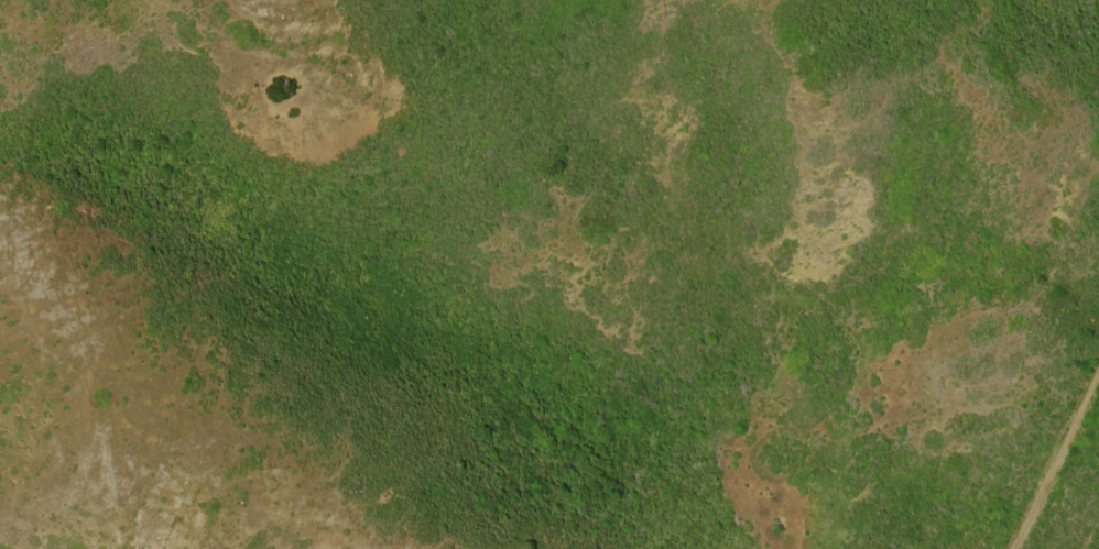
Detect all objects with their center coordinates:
road: (1057, 461)

